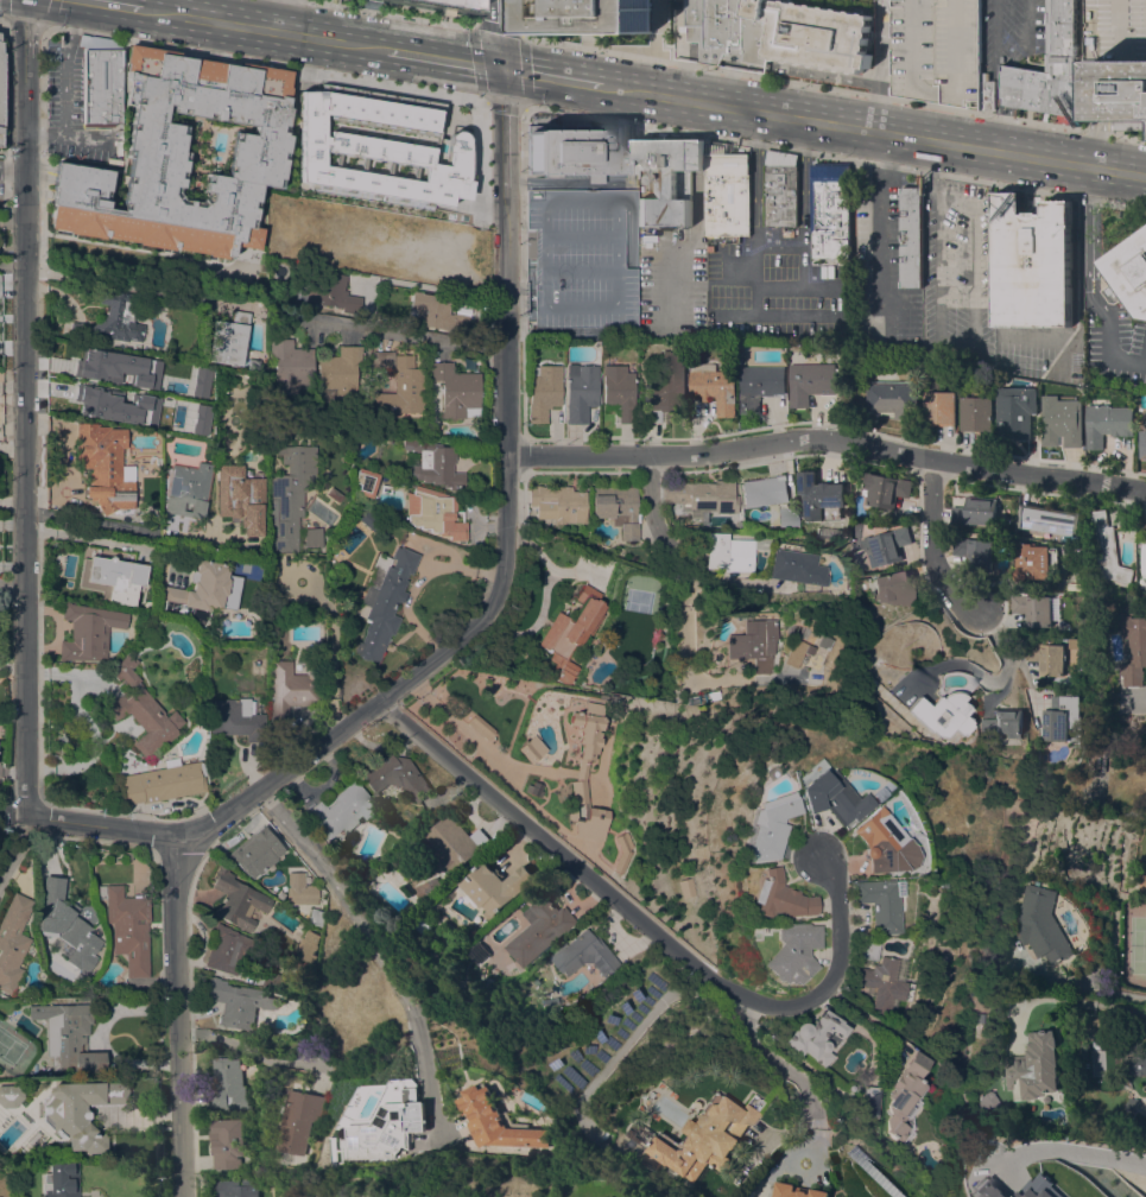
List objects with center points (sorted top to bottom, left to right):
road: (118, 4)
building: (419, 7)
road: (72, 14)
road: (280, 15)
road: (381, 15)
building: (591, 15)
road: (520, 18)
road: (2, 19)
road: (27, 24)
road: (996, 25)
road: (475, 26)
road: (1019, 26)
road: (265, 28)
building: (778, 32)
road: (500, 33)
building: (1, 46)
building: (936, 50)
road: (1007, 52)
road: (443, 58)
road: (1018, 59)
building: (1119, 59)
road: (265, 63)
road: (878, 65)
traffic signals: (501, 68)
building: (1051, 69)
road: (552, 76)
building: (101, 83)
road: (1015, 84)
road: (832, 87)
road: (998, 88)
road: (64, 90)
building: (986, 90)
building: (0, 93)
building: (376, 114)
road: (1012, 115)
road: (502, 128)
road: (874, 131)
road: (33, 132)
road: (1005, 138)
building: (422, 146)
building: (348, 148)
building: (572, 151)
building: (258, 152)
road: (834, 157)
road: (12, 170)
road: (932, 170)
road: (1094, 178)
building: (667, 179)
building: (781, 189)
building: (299, 190)
building: (323, 190)
building: (728, 194)
building: (439, 209)
building: (830, 209)
road: (486, 224)
road: (803, 224)
road: (1087, 235)
road: (881, 236)
building: (912, 236)
road: (1096, 236)
road: (756, 255)
building: (1032, 262)
building: (1131, 271)
road: (521, 281)
road: (1078, 289)
building: (333, 293)
building: (436, 312)
building: (114, 319)
road: (391, 330)
road: (1108, 337)
building: (228, 340)
building: (764, 344)
road: (492, 348)
road: (974, 357)
building: (253, 363)
building: (290, 365)
building: (116, 368)
building: (340, 373)
building: (200, 381)
building: (811, 381)
building: (399, 385)
building: (761, 385)
building: (667, 386)
building: (715, 386)
building: (456, 389)
building: (544, 391)
building: (580, 392)
building: (619, 393)
building: (894, 398)
building: (114, 406)
road: (25, 407)
building: (939, 408)
building: (976, 413)
building: (1014, 416)
building: (200, 419)
building: (1062, 422)
building: (1107, 423)
road: (827, 438)
building: (1142, 439)
road: (12, 448)
building: (432, 463)
building: (103, 465)
building: (365, 481)
building: (886, 488)
building: (188, 489)
building: (765, 490)
building: (334, 494)
building: (818, 494)
building: (702, 496)
building: (241, 499)
building: (292, 501)
building: (561, 502)
building: (618, 508)
building: (975, 511)
building: (433, 513)
road: (656, 515)
building: (790, 517)
building: (368, 519)
building: (1049, 519)
road: (138, 531)
building: (885, 545)
road: (931, 546)
building: (1107, 549)
building: (730, 551)
building: (975, 551)
building: (1144, 558)
building: (1033, 559)
building: (797, 566)
building: (112, 578)
road: (13, 585)
building: (892, 587)
building: (203, 593)
building: (382, 604)
building: (1033, 608)
building: (89, 632)
building: (571, 634)
building: (1075, 642)
building: (752, 644)
building: (1133, 647)
building: (792, 653)
building: (1046, 654)
road: (431, 657)
road: (331, 671)
road: (987, 678)
building: (290, 689)
building: (710, 695)
building: (602, 697)
building: (612, 699)
building: (910, 704)
building: (141, 712)
building: (941, 715)
building: (1062, 716)
building: (236, 718)
building: (1002, 723)
building: (480, 727)
building: (532, 749)
building: (1098, 760)
building: (582, 769)
building: (395, 775)
building: (165, 781)
building: (534, 788)
building: (828, 800)
building: (341, 810)
building: (422, 812)
building: (761, 826)
building: (452, 842)
building: (879, 843)
road: (14, 849)
building: (255, 851)
building: (623, 851)
building: (938, 882)
building: (1142, 882)
building: (494, 887)
building: (685, 887)
building: (428, 888)
building: (299, 889)
building: (777, 898)
building: (236, 900)
building: (875, 904)
building: (412, 908)
building: (315, 916)
building: (1040, 923)
building: (65, 924)
building: (127, 926)
building: (423, 926)
building: (539, 929)
road: (650, 929)
road: (374, 939)
building: (13, 940)
building: (306, 944)
building: (229, 950)
building: (865, 950)
building: (477, 951)
building: (791, 952)
building: (587, 955)
building: (508, 967)
building: (273, 981)
building: (880, 986)
road: (1083, 1001)
building: (239, 1002)
road: (857, 1013)
road: (184, 1019)
building: (68, 1037)
building: (813, 1037)
road: (632, 1038)
building: (1134, 1065)
building: (1033, 1066)
road: (787, 1072)
building: (228, 1084)
building: (10, 1095)
building: (905, 1097)
building: (869, 1102)
building: (989, 1102)
building: (1129, 1103)
building: (80, 1110)
building: (302, 1120)
building: (499, 1120)
building: (391, 1128)
building: (698, 1138)
building: (227, 1141)
road: (1082, 1148)
building: (1008, 1173)
building: (59, 1180)
building: (238, 1187)
building: (1038, 1187)
building: (988, 1190)
building: (798, 1191)
building: (449, 1196)

